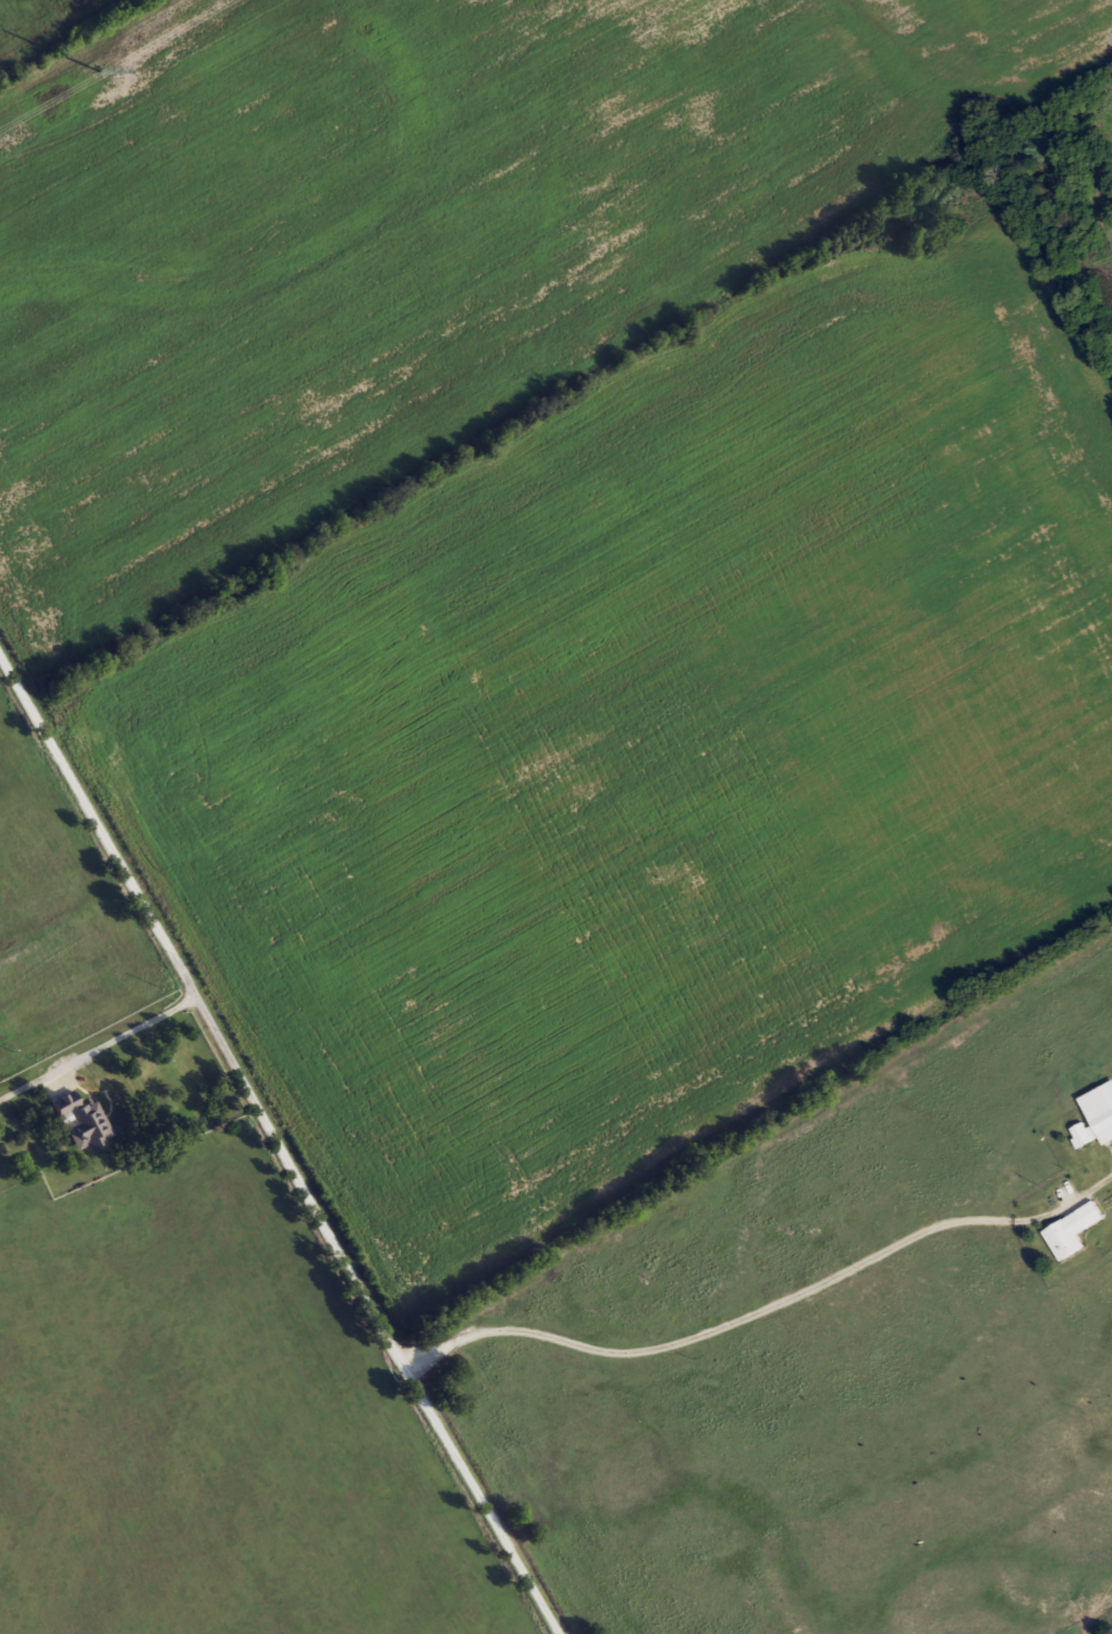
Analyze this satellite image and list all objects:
power tower: (100, 71)
road: (117, 1076)
building: (81, 1123)
building: (1095, 1124)
road: (281, 1142)
building: (1072, 1231)
road: (767, 1305)

